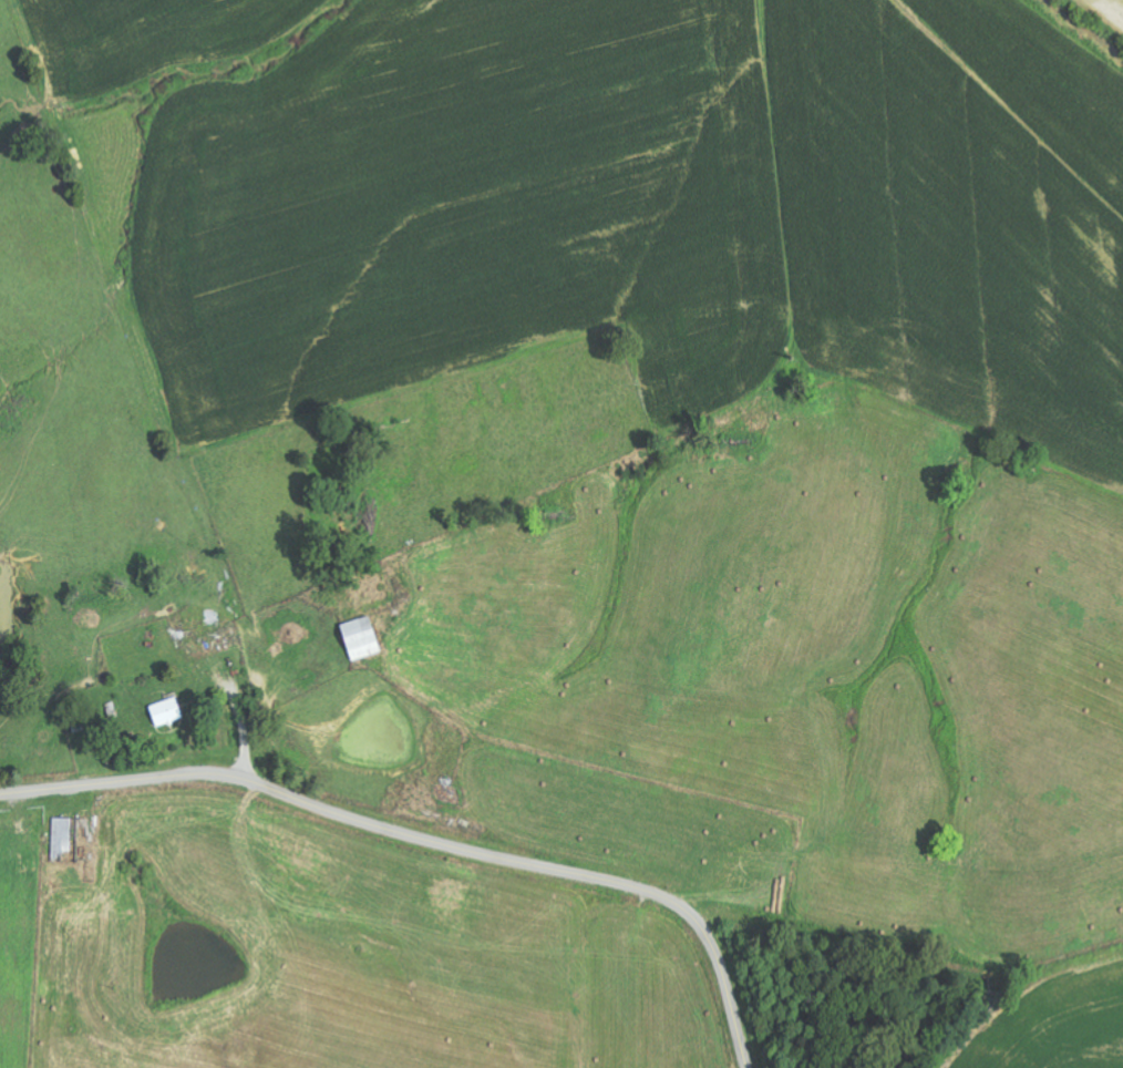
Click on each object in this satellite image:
building: (359, 638)
building: (166, 712)
building: (62, 836)
road: (426, 840)

